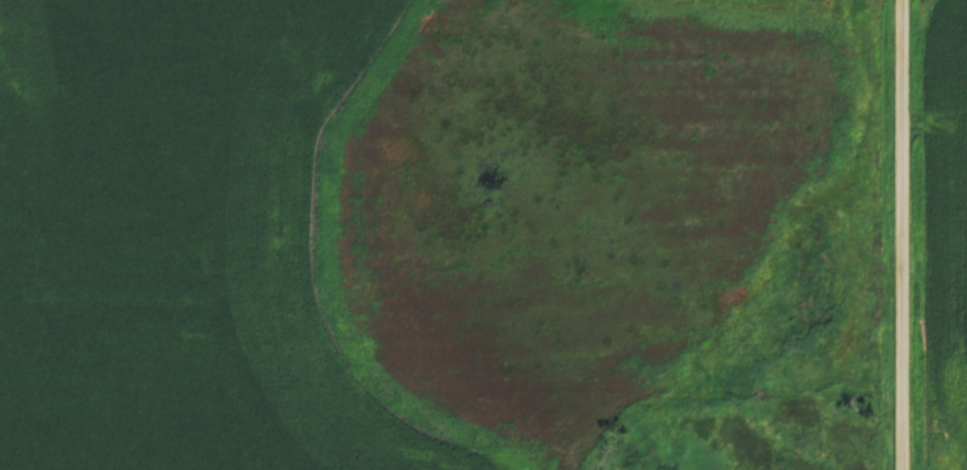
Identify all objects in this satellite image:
road: (903, 235)
road: (677, 469)

